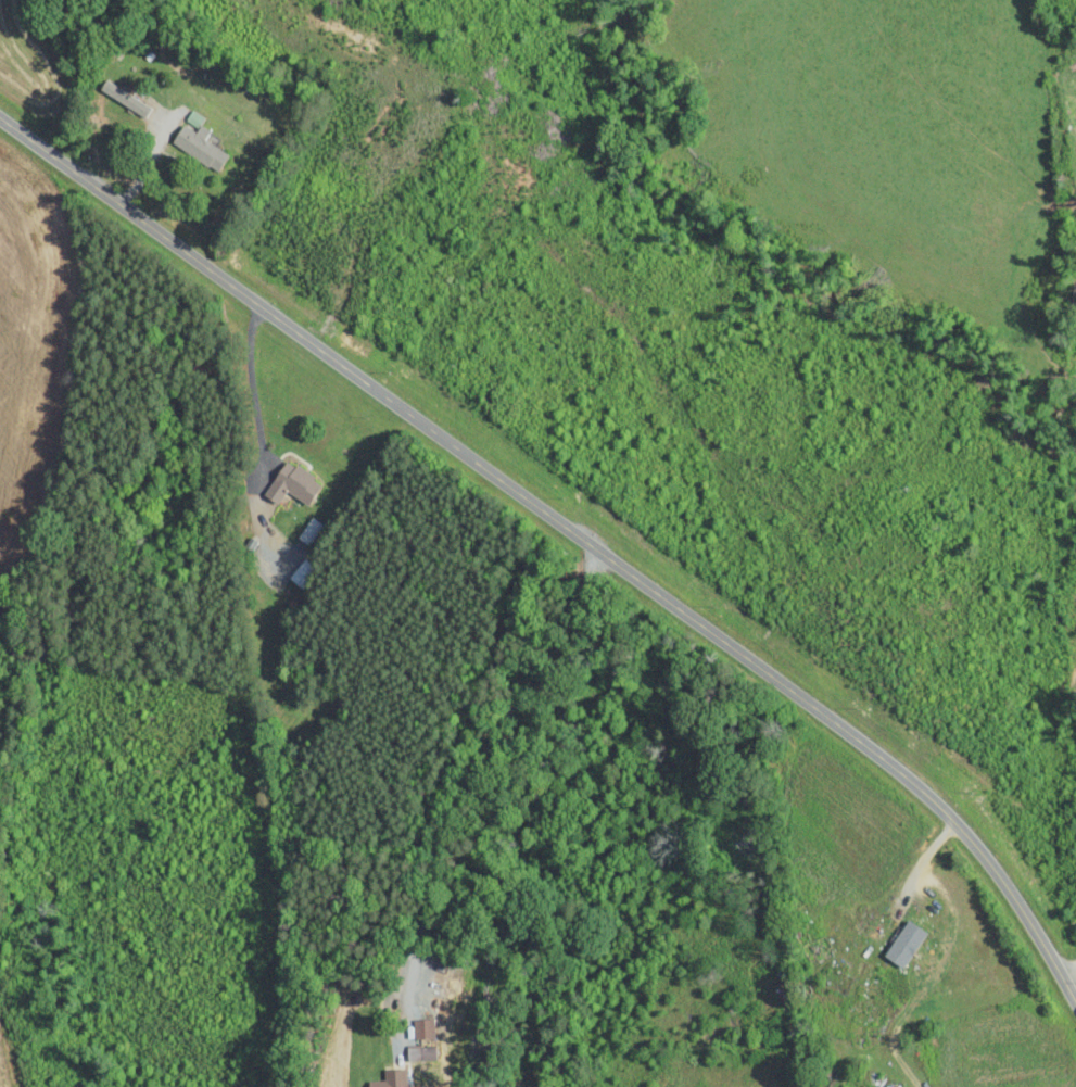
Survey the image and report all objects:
building: (198, 141)
road: (252, 377)
building: (291, 483)
road: (568, 529)
road: (474, 769)
building: (902, 941)
road: (1069, 972)
building: (422, 1027)
road: (896, 1054)

